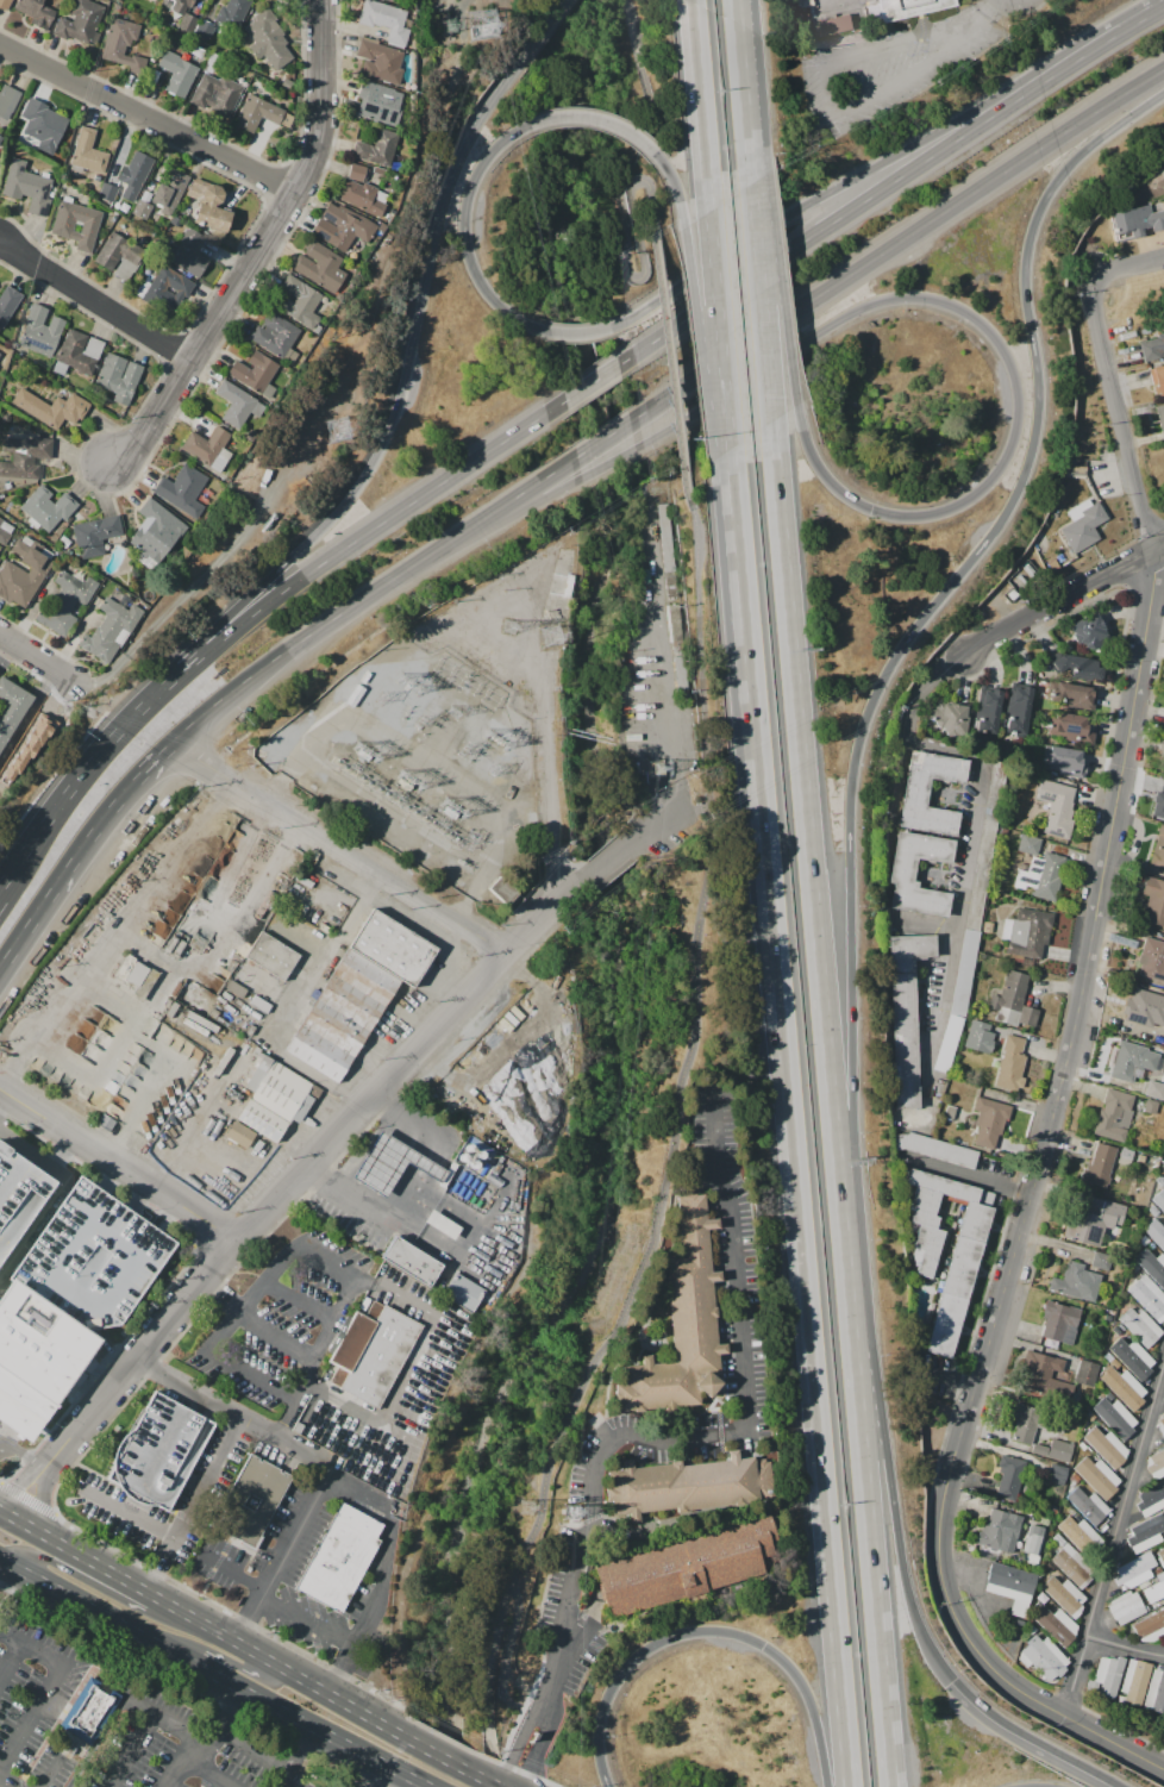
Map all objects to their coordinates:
building: (158, 0)
building: (396, 1)
road: (836, 4)
building: (5, 5)
building: (181, 6)
building: (901, 8)
building: (37, 11)
building: (232, 13)
road: (993, 13)
road: (1153, 13)
building: (384, 19)
building: (82, 20)
power tower: (484, 21)
building: (188, 23)
building: (834, 25)
road: (546, 26)
building: (204, 31)
building: (268, 39)
building: (120, 40)
road: (902, 45)
building: (380, 61)
building: (179, 75)
road: (884, 85)
road: (747, 92)
building: (221, 95)
building: (7, 101)
building: (380, 104)
road: (701, 105)
building: (258, 113)
road: (146, 118)
road: (597, 118)
building: (44, 123)
building: (376, 149)
building: (88, 152)
road: (872, 167)
building: (1162, 168)
building: (127, 179)
building: (27, 187)
building: (170, 187)
road: (674, 188)
building: (359, 190)
road: (881, 192)
building: (209, 205)
road: (625, 219)
building: (1137, 220)
building: (76, 224)
building: (342, 227)
road: (462, 232)
road: (899, 240)
road: (257, 249)
building: (117, 250)
building: (186, 252)
building: (319, 265)
road: (1125, 268)
building: (164, 289)
road: (775, 294)
building: (296, 299)
building: (7, 304)
road: (94, 305)
road: (768, 318)
road: (720, 330)
road: (580, 331)
building: (40, 332)
building: (274, 335)
road: (668, 336)
road: (707, 340)
road: (996, 340)
building: (1152, 349)
building: (80, 351)
building: (0, 354)
road: (405, 364)
building: (254, 371)
building: (119, 377)
building: (1157, 379)
road: (592, 382)
building: (234, 404)
building: (51, 408)
road: (1119, 415)
building: (1160, 415)
power tower: (338, 433)
road: (606, 436)
road: (509, 437)
building: (207, 444)
building: (24, 457)
road: (608, 462)
building: (182, 491)
building: (48, 507)
road: (497, 507)
traffic signals: (870, 511)
road: (501, 519)
building: (158, 526)
building: (1083, 527)
building: (5, 531)
building: (95, 535)
road: (1163, 551)
road: (333, 555)
building: (667, 558)
building: (23, 574)
road: (386, 585)
building: (670, 587)
building: (65, 604)
road: (1063, 604)
power tower: (509, 623)
road: (701, 625)
building: (675, 627)
building: (111, 630)
building: (1088, 630)
power tower: (552, 631)
road: (899, 648)
road: (37, 662)
road: (659, 664)
building: (1078, 666)
road: (259, 673)
building: (681, 675)
road: (173, 681)
building: (1074, 695)
building: (1019, 706)
building: (11, 708)
building: (987, 710)
road: (27, 718)
building: (950, 718)
building: (1069, 727)
building: (26, 749)
building: (1163, 752)
building: (1064, 762)
power substation: (420, 764)
power tower: (655, 771)
building: (915, 794)
road: (62, 806)
building: (1057, 807)
building: (1158, 807)
road: (697, 808)
road: (664, 816)
road: (972, 821)
parking lot: (675, 831)
building: (1030, 844)
road: (342, 848)
road: (618, 849)
building: (1158, 849)
road: (79, 854)
road: (231, 864)
building: (902, 871)
road: (816, 875)
building: (1040, 876)
road: (0, 895)
building: (1153, 900)
building: (972, 918)
building: (1027, 931)
building: (393, 946)
building: (274, 955)
road: (155, 957)
building: (1152, 960)
building: (236, 988)
building: (1013, 1000)
building: (259, 1004)
road: (61, 1005)
building: (1143, 1007)
building: (906, 1012)
building: (343, 1017)
building: (202, 1021)
building: (195, 1026)
building: (190, 1033)
building: (978, 1036)
road: (406, 1052)
building: (224, 1061)
building: (1132, 1061)
building: (1012, 1063)
building: (275, 1087)
building: (1154, 1089)
road: (4, 1099)
building: (1151, 1106)
road: (405, 1108)
building: (1114, 1114)
road: (789, 1119)
building: (261, 1120)
building: (989, 1120)
building: (239, 1135)
road: (114, 1139)
road: (1046, 1142)
building: (940, 1149)
road: (37, 1154)
building: (1125, 1156)
road: (64, 1158)
building: (1140, 1158)
road: (377, 1161)
road: (114, 1163)
building: (389, 1163)
building: (1163, 1163)
building: (1099, 1166)
building: (1162, 1168)
building: (1163, 1173)
road: (102, 1177)
road: (988, 1181)
road: (332, 1182)
building: (1159, 1198)
building: (19, 1199)
parking lot: (19, 1199)
road: (148, 1208)
building: (1116, 1208)
building: (442, 1224)
road: (37, 1227)
building: (1085, 1230)
building: (1156, 1232)
road: (213, 1233)
road: (296, 1248)
building: (93, 1261)
parking lot: (93, 1261)
building: (411, 1261)
building: (1101, 1261)
building: (964, 1262)
building: (1152, 1266)
building: (1071, 1280)
road: (632, 1289)
building: (463, 1292)
road: (220, 1294)
building: (1149, 1296)
road: (299, 1304)
parking lot: (739, 1304)
road: (855, 1318)
building: (682, 1323)
building: (1059, 1324)
building: (1139, 1326)
parking lot: (273, 1336)
road: (276, 1337)
building: (38, 1352)
road: (138, 1354)
building: (376, 1356)
building: (1132, 1356)
road: (99, 1368)
building: (1085, 1373)
building: (1043, 1374)
building: (1163, 1382)
building: (1122, 1387)
road: (186, 1391)
building: (1115, 1417)
building: (1033, 1422)
building: (1162, 1425)
road: (665, 1436)
road: (283, 1443)
building: (1106, 1447)
building: (1055, 1450)
road: (24, 1454)
building: (157, 1454)
building: (1156, 1464)
building: (1057, 1474)
building: (1097, 1476)
building: (1009, 1477)
road: (21, 1481)
building: (689, 1485)
building: (1152, 1498)
road: (27, 1499)
road: (40, 1500)
road: (1126, 1500)
building: (251, 1501)
power tower: (527, 1505)
road: (193, 1506)
building: (1089, 1506)
power tower: (570, 1510)
road: (893, 1512)
road: (131, 1514)
building: (993, 1530)
building: (1081, 1536)
building: (1144, 1536)
building: (1163, 1538)
building: (1032, 1545)
road: (281, 1552)
building: (1160, 1557)
building: (340, 1560)
road: (877, 1562)
building: (688, 1566)
building: (1074, 1568)
building: (1137, 1569)
road: (232, 1570)
road: (387, 1573)
road: (6, 1574)
road: (92, 1582)
building: (1010, 1586)
building: (1156, 1588)
building: (1064, 1595)
building: (1125, 1607)
road: (183, 1612)
road: (307, 1623)
building: (1055, 1624)
building: (1150, 1626)
road: (711, 1631)
road: (1125, 1647)
building: (1041, 1657)
road: (507, 1658)
road: (227, 1660)
road: (11, 1666)
road: (207, 1669)
building: (1108, 1675)
road: (1075, 1676)
traffic signals: (956, 1677)
building: (1134, 1681)
road: (105, 1687)
road: (186, 1687)
building: (1154, 1692)
road: (46, 1693)
building: (87, 1712)
parking lot: (106, 1723)
road: (386, 1723)
road: (1096, 1736)
road: (1035, 1738)
road: (211, 1742)
road: (254, 1748)
road: (134, 1750)
road: (440, 1754)
road: (295, 1756)
road: (208, 1773)
road: (373, 1773)
road: (294, 1780)
road: (489, 1780)
road: (424, 1782)
road: (0, 1786)

